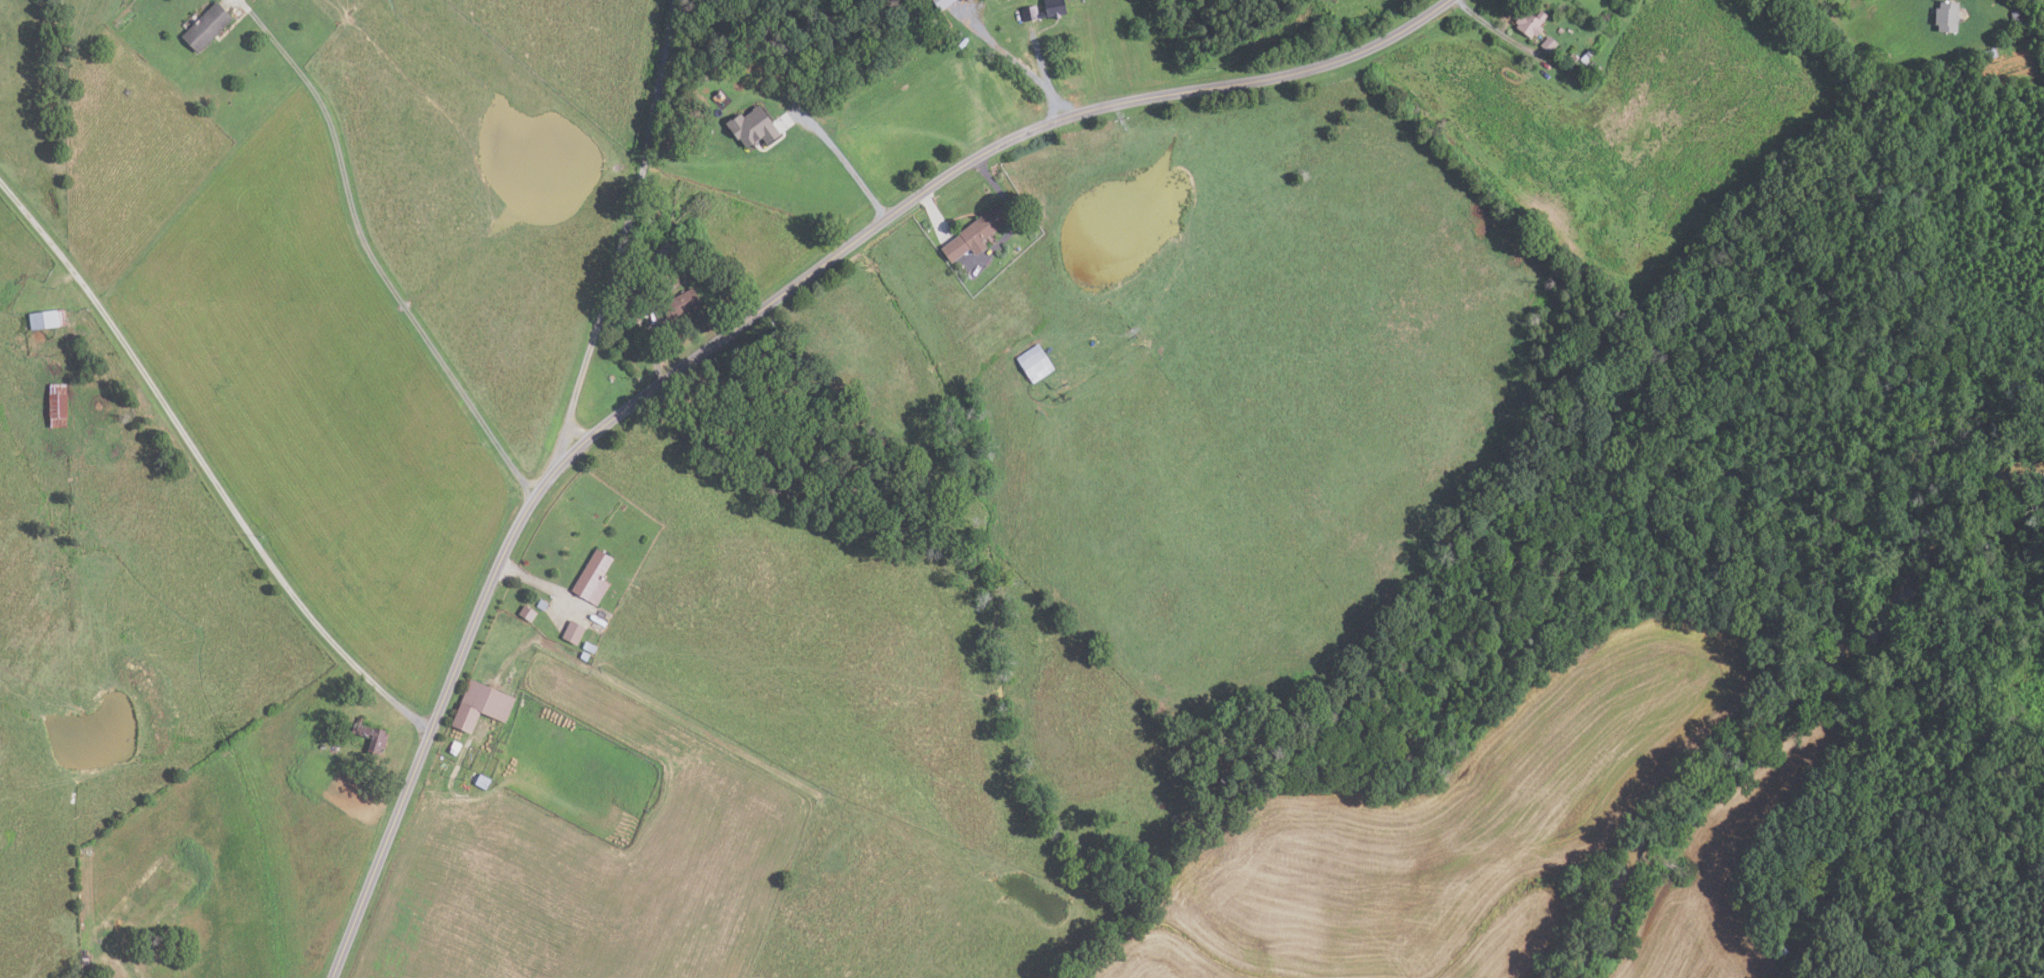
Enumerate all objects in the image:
building: (944, 3)
building: (1057, 9)
building: (1945, 15)
building: (2015, 21)
building: (1528, 22)
building: (208, 26)
road: (1493, 29)
building: (1559, 29)
building: (1547, 43)
building: (1988, 53)
building: (1585, 55)
building: (1571, 57)
building: (1923, 62)
building: (1590, 64)
building: (1567, 69)
road: (1042, 75)
road: (660, 79)
building: (1583, 79)
building: (721, 93)
building: (707, 109)
building: (754, 126)
road: (845, 161)
road: (643, 166)
road: (1012, 217)
building: (976, 234)
building: (662, 248)
building: (1018, 249)
road: (374, 259)
road: (666, 286)
building: (632, 300)
building: (684, 303)
road: (599, 316)
building: (48, 318)
road: (740, 324)
building: (1036, 363)
crop: (319, 402)
building: (59, 404)
road: (204, 466)
building: (595, 578)
road: (547, 586)
building: (543, 604)
building: (528, 613)
building: (575, 632)
building: (591, 647)
building: (585, 656)
building: (482, 705)
building: (372, 735)
building: (323, 746)
building: (456, 748)
building: (483, 781)
crop: (1447, 832)
crop: (1713, 880)

